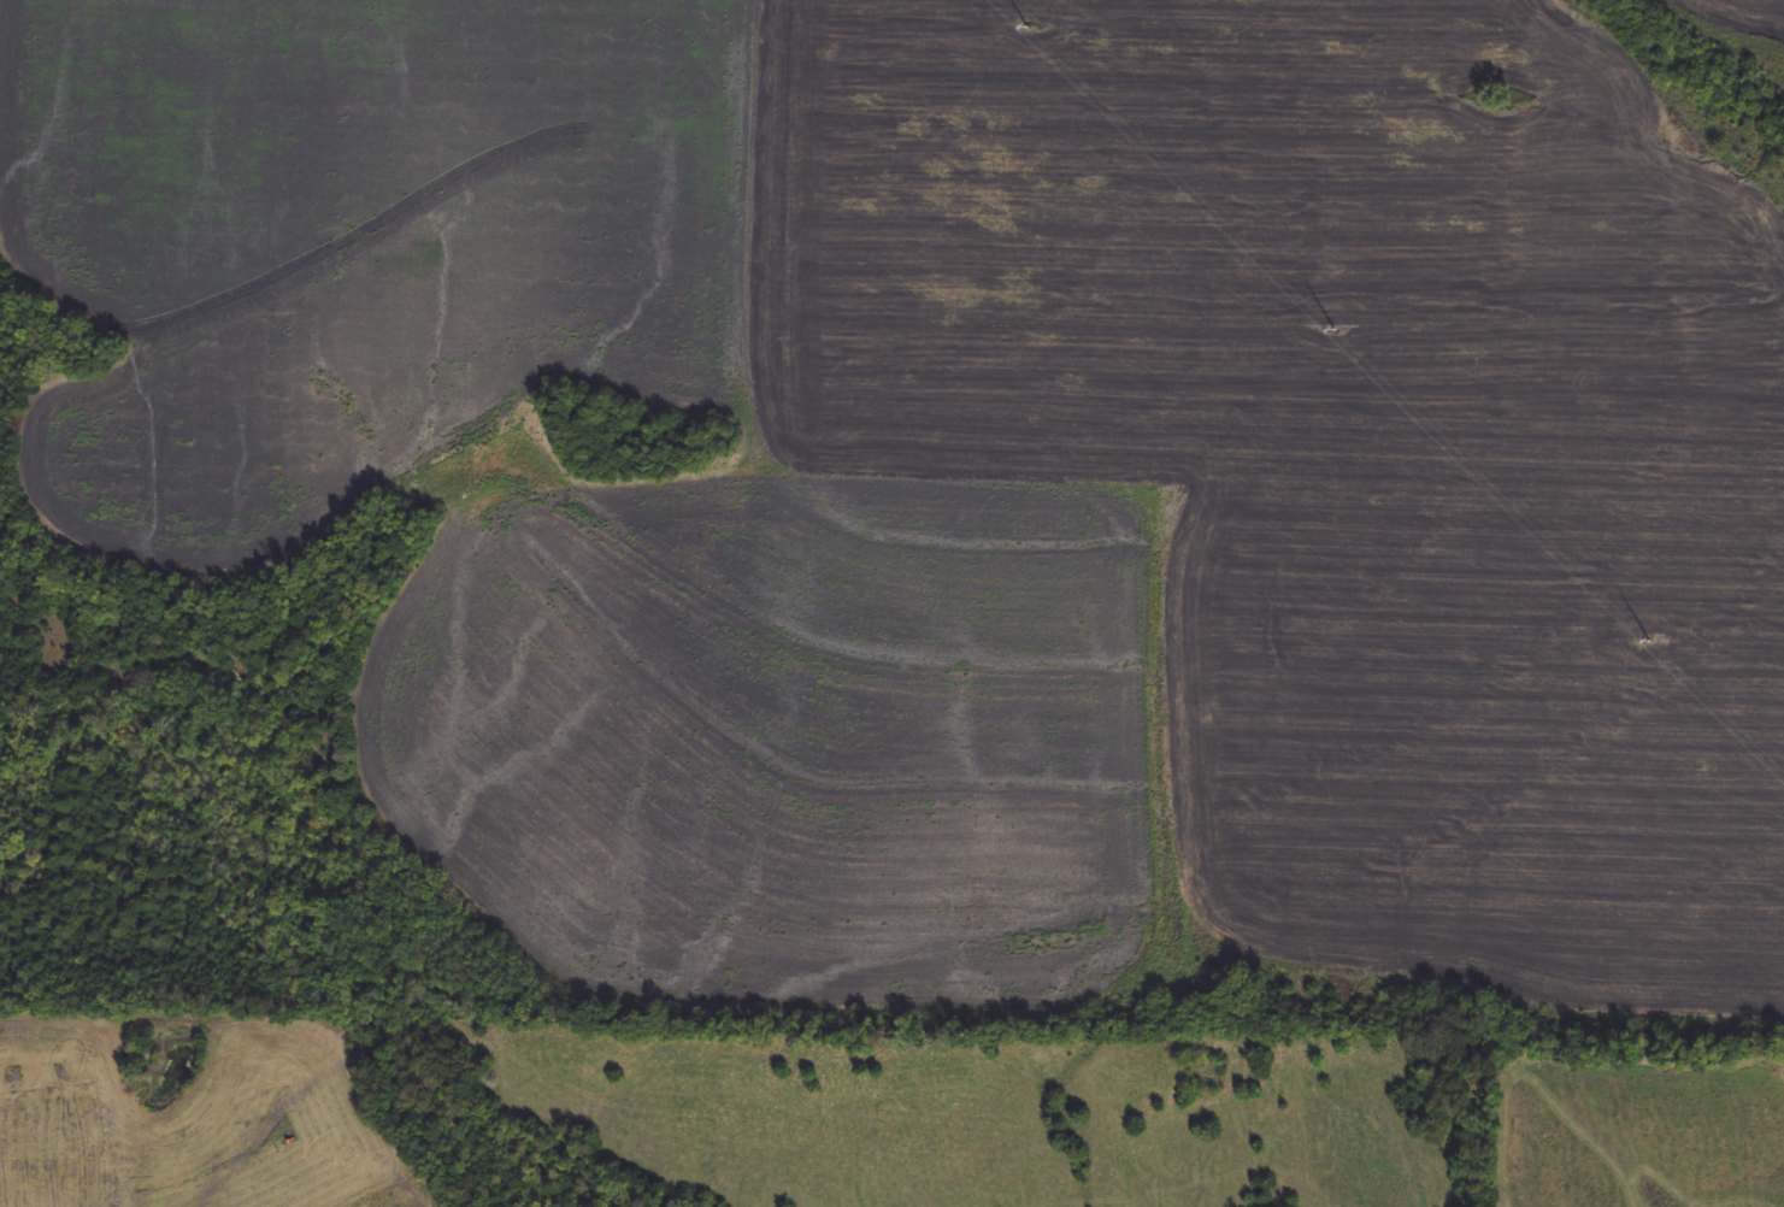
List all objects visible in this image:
power tower: (1032, 29)
road: (665, 206)
power tower: (1337, 334)
power tower: (1653, 644)

